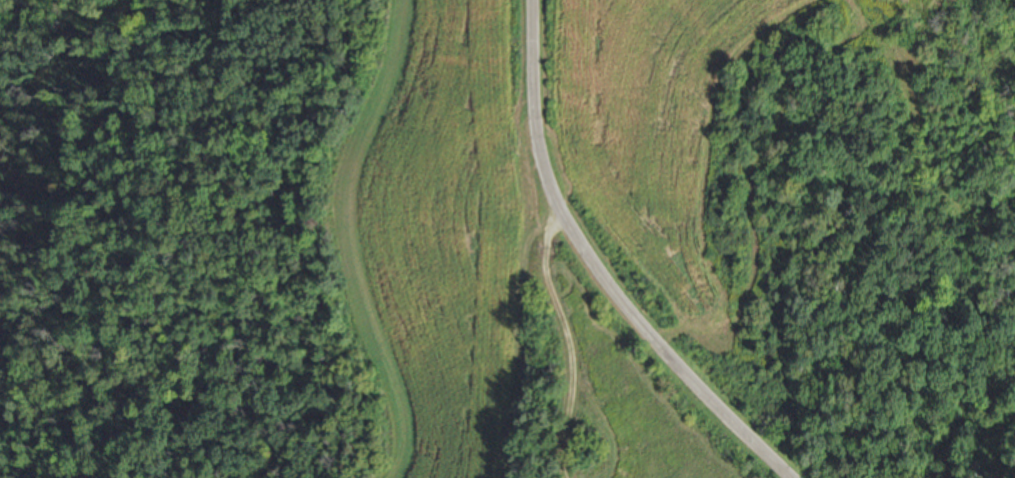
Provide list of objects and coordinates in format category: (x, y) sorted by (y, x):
road: (597, 269)

